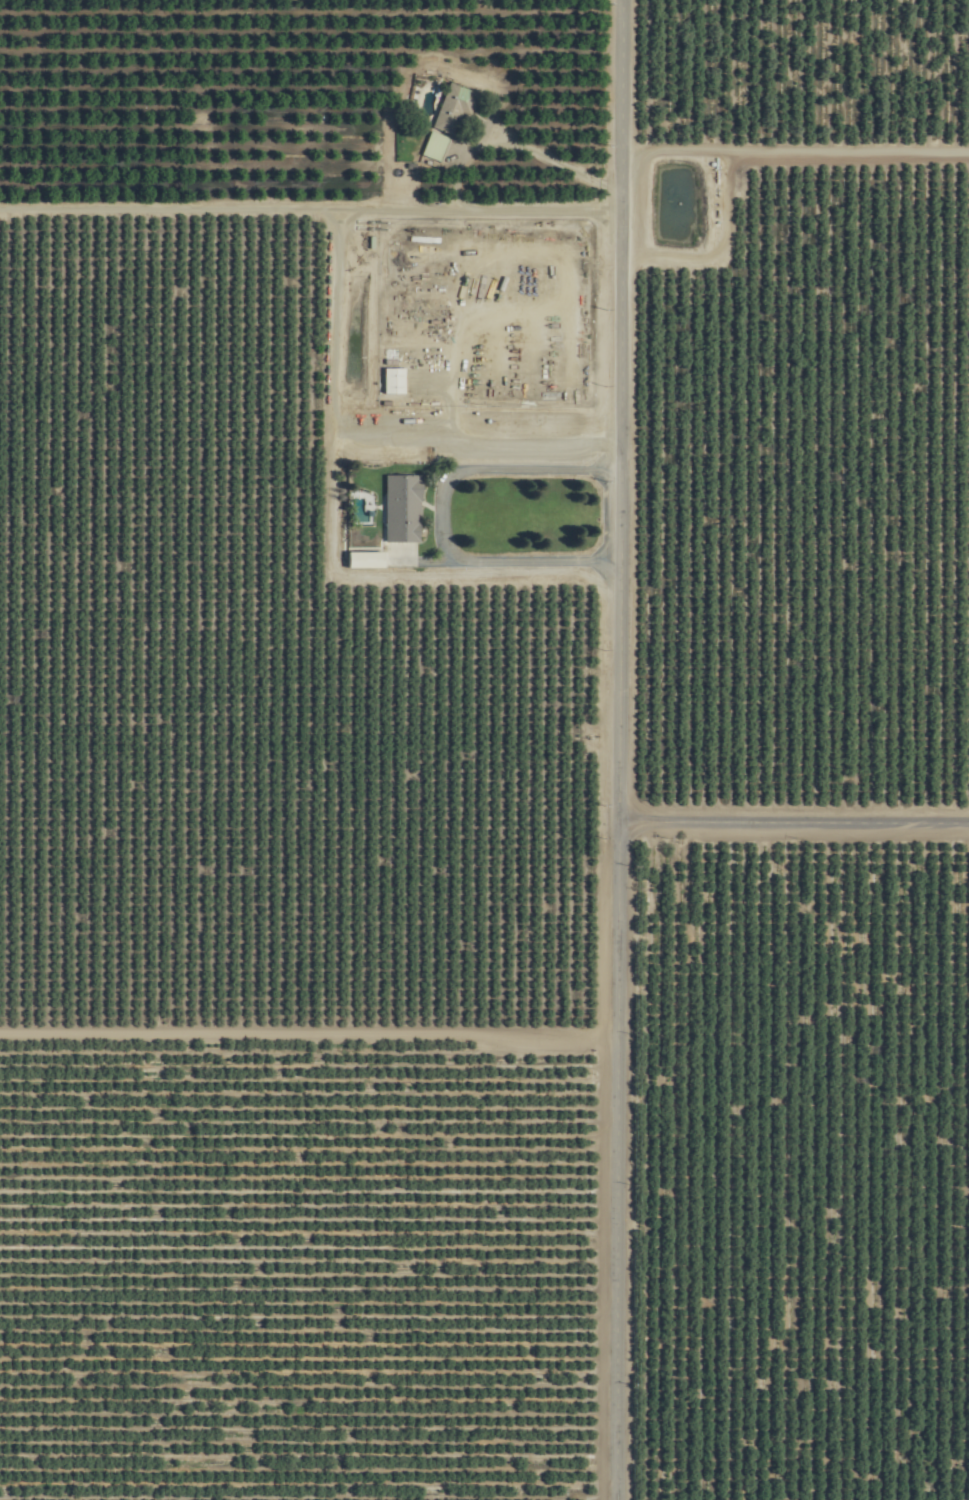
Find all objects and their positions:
building: (457, 109)
building: (438, 146)
road: (851, 152)
road: (682, 155)
road: (315, 216)
road: (724, 249)
road: (467, 441)
building: (404, 508)
road: (444, 515)
building: (365, 560)
building: (580, 668)
crop: (484, 750)
road: (629, 750)
road: (799, 821)
building: (563, 939)
building: (547, 1021)
road: (313, 1041)

